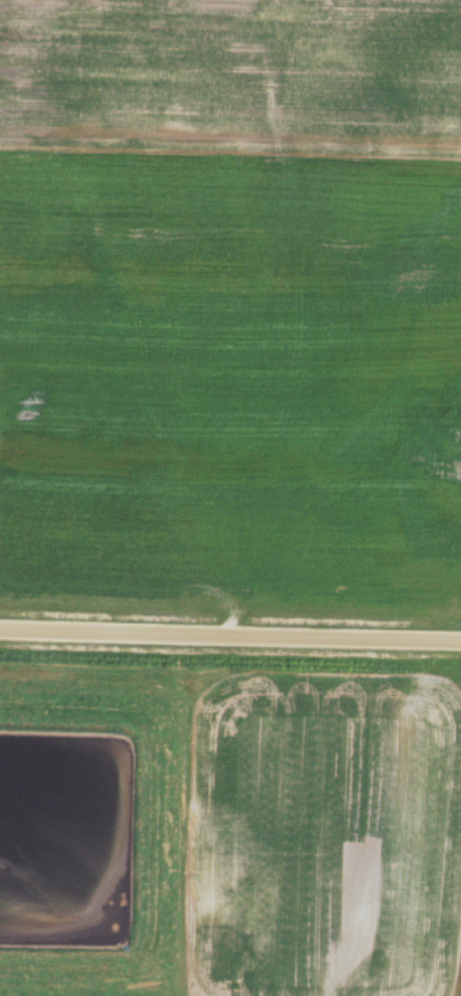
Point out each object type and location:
road: (230, 620)

